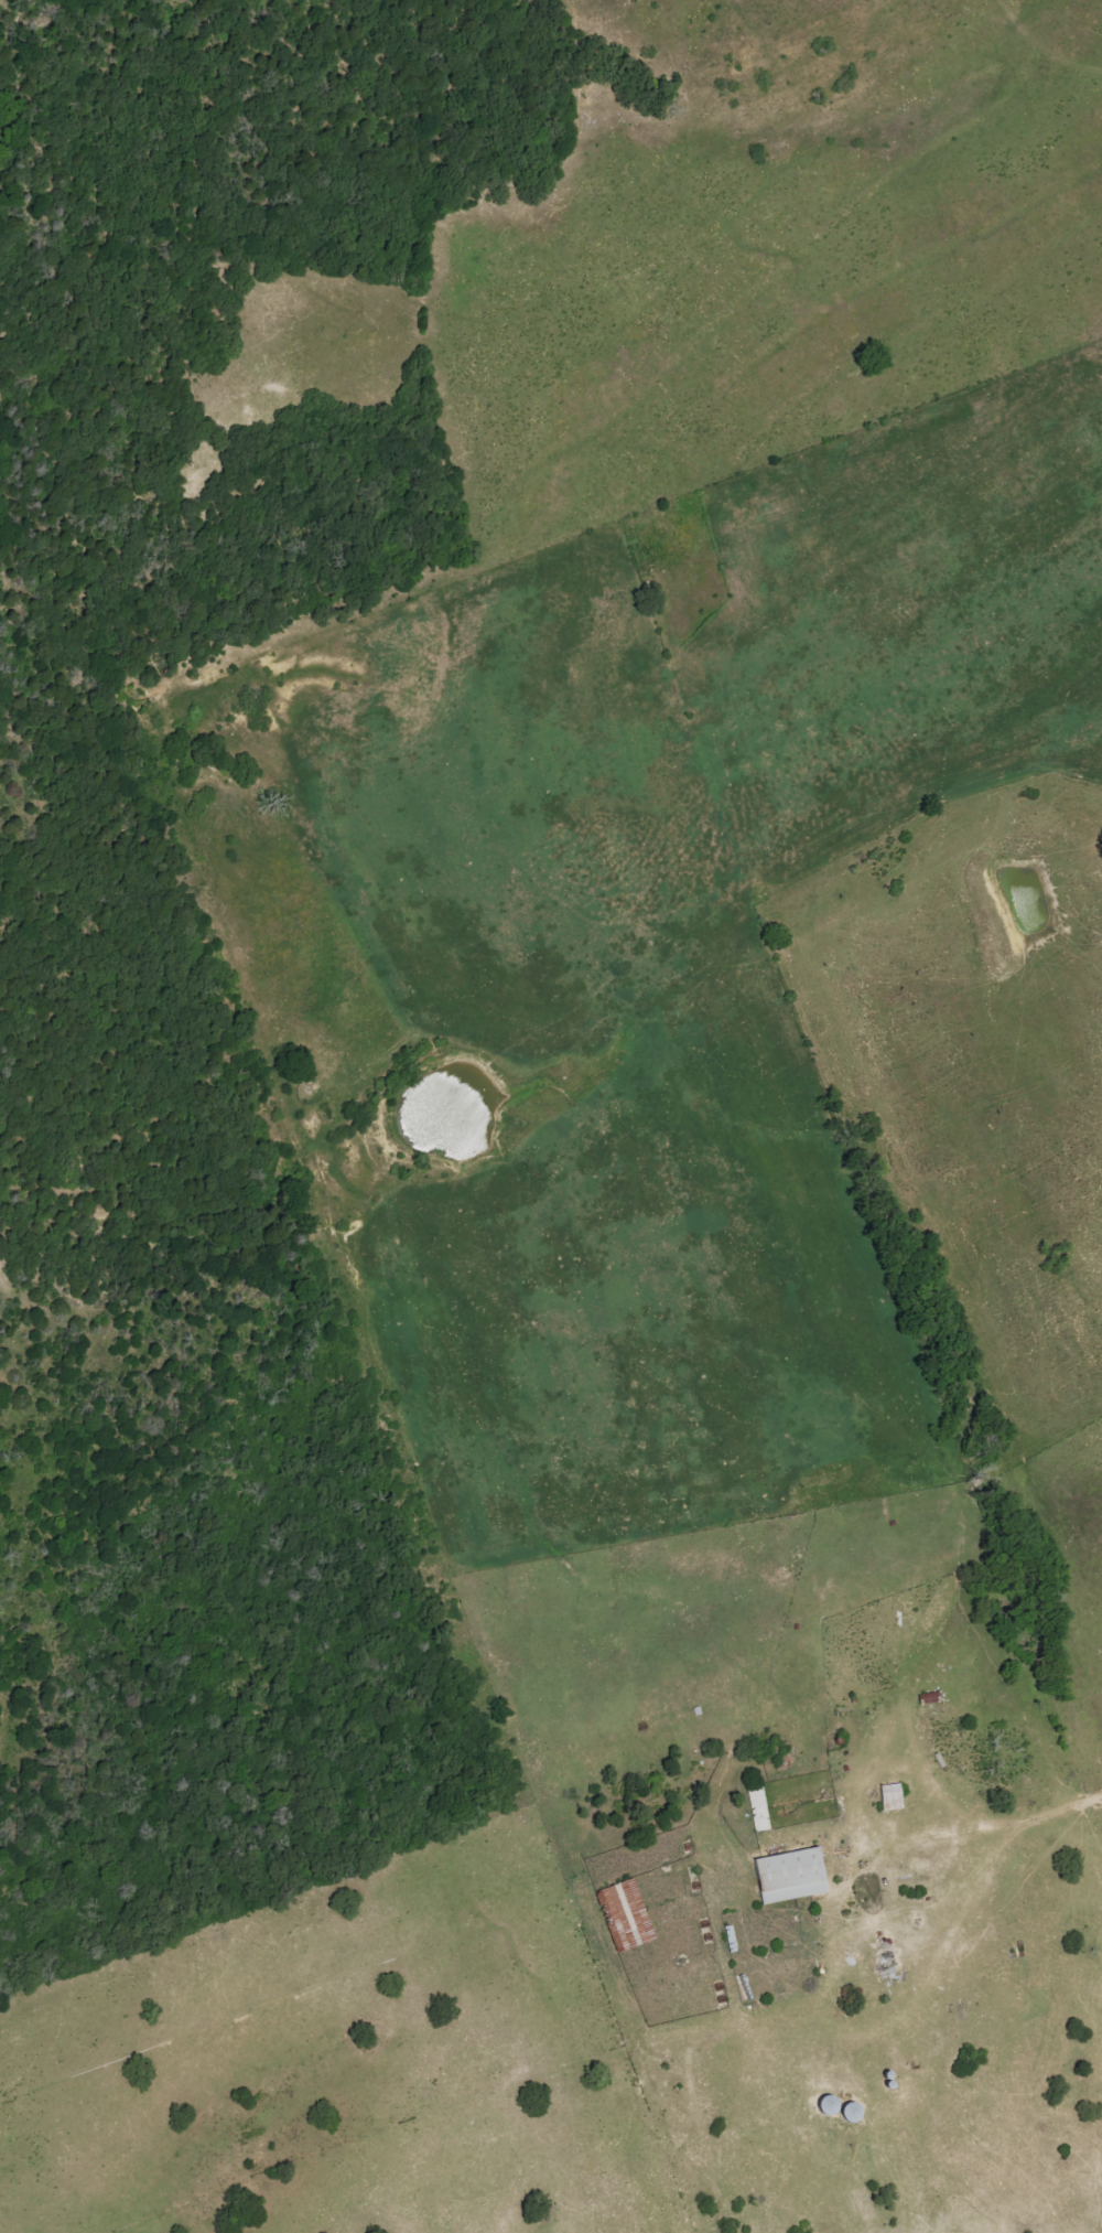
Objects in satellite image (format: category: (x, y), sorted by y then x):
building: (788, 1875)

